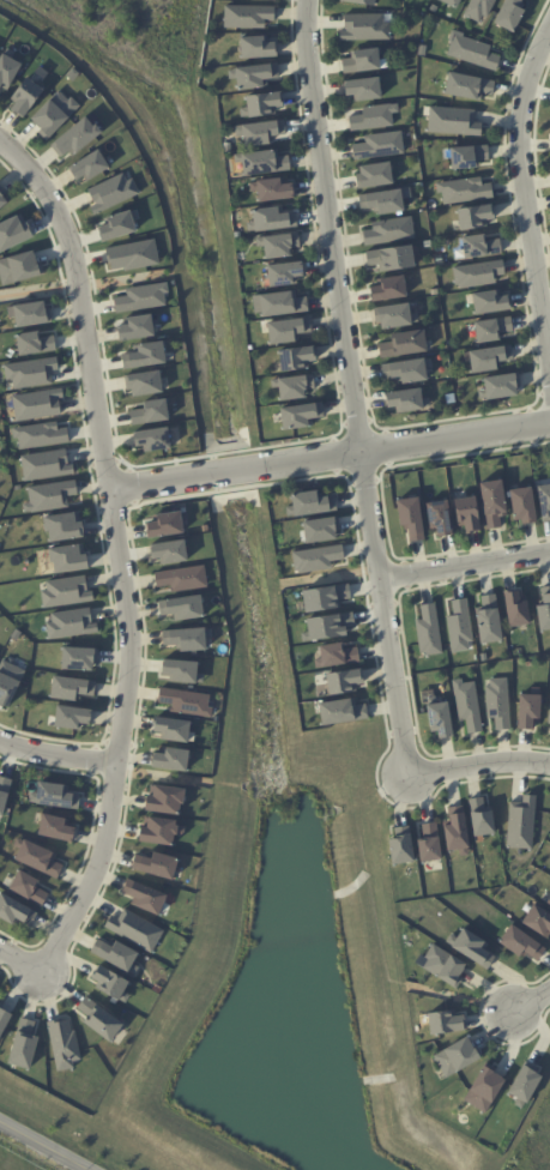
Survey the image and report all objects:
building: (361, 1)
building: (451, 2)
building: (479, 8)
building: (509, 14)
building: (247, 16)
building: (367, 26)
park: (147, 28)
building: (255, 46)
building: (472, 52)
building: (362, 61)
building: (7, 70)
building: (253, 74)
building: (467, 86)
building: (363, 88)
building: (25, 96)
building: (262, 104)
building: (53, 113)
building: (373, 116)
building: (453, 121)
building: (259, 132)
building: (75, 137)
building: (379, 146)
building: (467, 157)
building: (262, 161)
building: (89, 165)
building: (374, 174)
building: (272, 188)
building: (463, 189)
building: (111, 192)
building: (2, 200)
building: (382, 201)
road: (524, 206)
building: (475, 216)
building: (270, 219)
building: (116, 225)
road: (327, 228)
building: (388, 230)
building: (13, 233)
building: (278, 243)
building: (479, 246)
building: (132, 254)
building: (391, 258)
building: (18, 267)
building: (284, 272)
building: (477, 273)
building: (389, 288)
building: (141, 297)
building: (490, 301)
building: (278, 303)
building: (29, 313)
building: (393, 314)
building: (137, 327)
building: (288, 328)
building: (492, 328)
building: (34, 343)
building: (404, 343)
building: (145, 355)
building: (296, 357)
building: (489, 357)
building: (406, 369)
building: (30, 372)
building: (145, 382)
building: (294, 385)
building: (501, 386)
building: (406, 399)
building: (36, 404)
building: (150, 412)
building: (301, 414)
building: (40, 434)
building: (152, 439)
road: (328, 459)
building: (46, 464)
building: (48, 495)
building: (544, 501)
building: (492, 502)
building: (309, 503)
building: (524, 503)
building: (467, 513)
building: (440, 517)
building: (411, 518)
building: (165, 524)
building: (62, 527)
building: (320, 529)
building: (169, 550)
road: (115, 553)
building: (316, 557)
building: (66, 559)
road: (463, 563)
building: (182, 578)
building: (66, 591)
building: (325, 597)
building: (182, 607)
building: (516, 608)
building: (544, 609)
road: (381, 614)
building: (489, 619)
building: (69, 622)
building: (327, 626)
building: (459, 626)
building: (428, 629)
building: (186, 638)
building: (336, 655)
building: (78, 658)
building: (181, 670)
building: (8, 681)
building: (343, 681)
building: (71, 687)
building: (186, 701)
building: (497, 702)
building: (467, 704)
building: (528, 710)
building: (342, 711)
building: (71, 717)
building: (549, 717)
building: (440, 719)
building: (171, 728)
road: (56, 749)
building: (171, 759)
road: (476, 762)
building: (4, 791)
building: (55, 795)
building: (164, 800)
building: (481, 818)
building: (521, 822)
building: (55, 827)
building: (161, 830)
building: (457, 833)
building: (429, 843)
building: (401, 849)
building: (38, 858)
building: (155, 864)
building: (28, 887)
building: (144, 895)
building: (548, 900)
building: (14, 910)
building: (538, 919)
building: (134, 930)
building: (521, 942)
building: (470, 946)
building: (115, 953)
road: (20, 959)
building: (443, 964)
building: (111, 983)
road: (531, 997)
building: (98, 1018)
building: (4, 1019)
building: (446, 1021)
building: (62, 1043)
building: (23, 1044)
building: (457, 1055)
building: (524, 1085)
building: (483, 1088)
road: (38, 1148)

